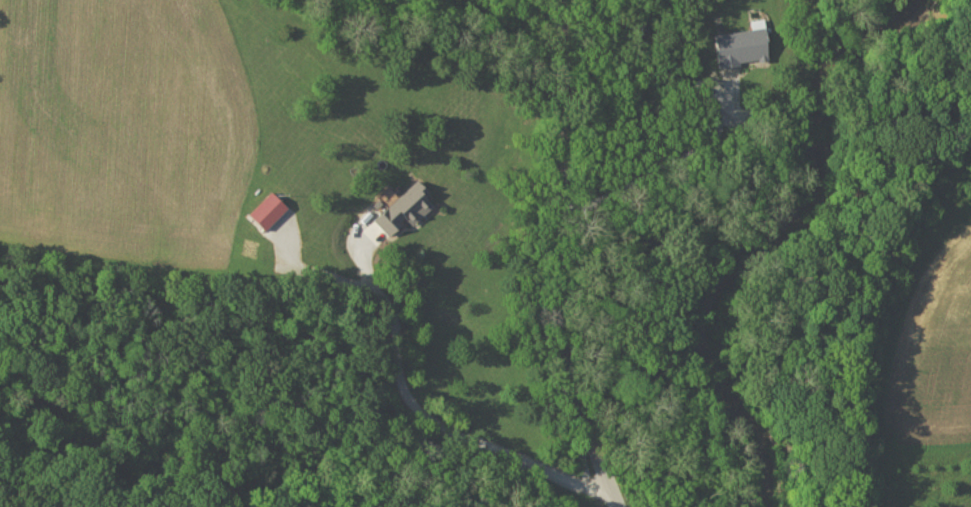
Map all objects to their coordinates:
road: (750, 9)
building: (741, 46)
building: (405, 209)
building: (269, 210)
road: (539, 261)
road: (311, 273)
road: (427, 417)

